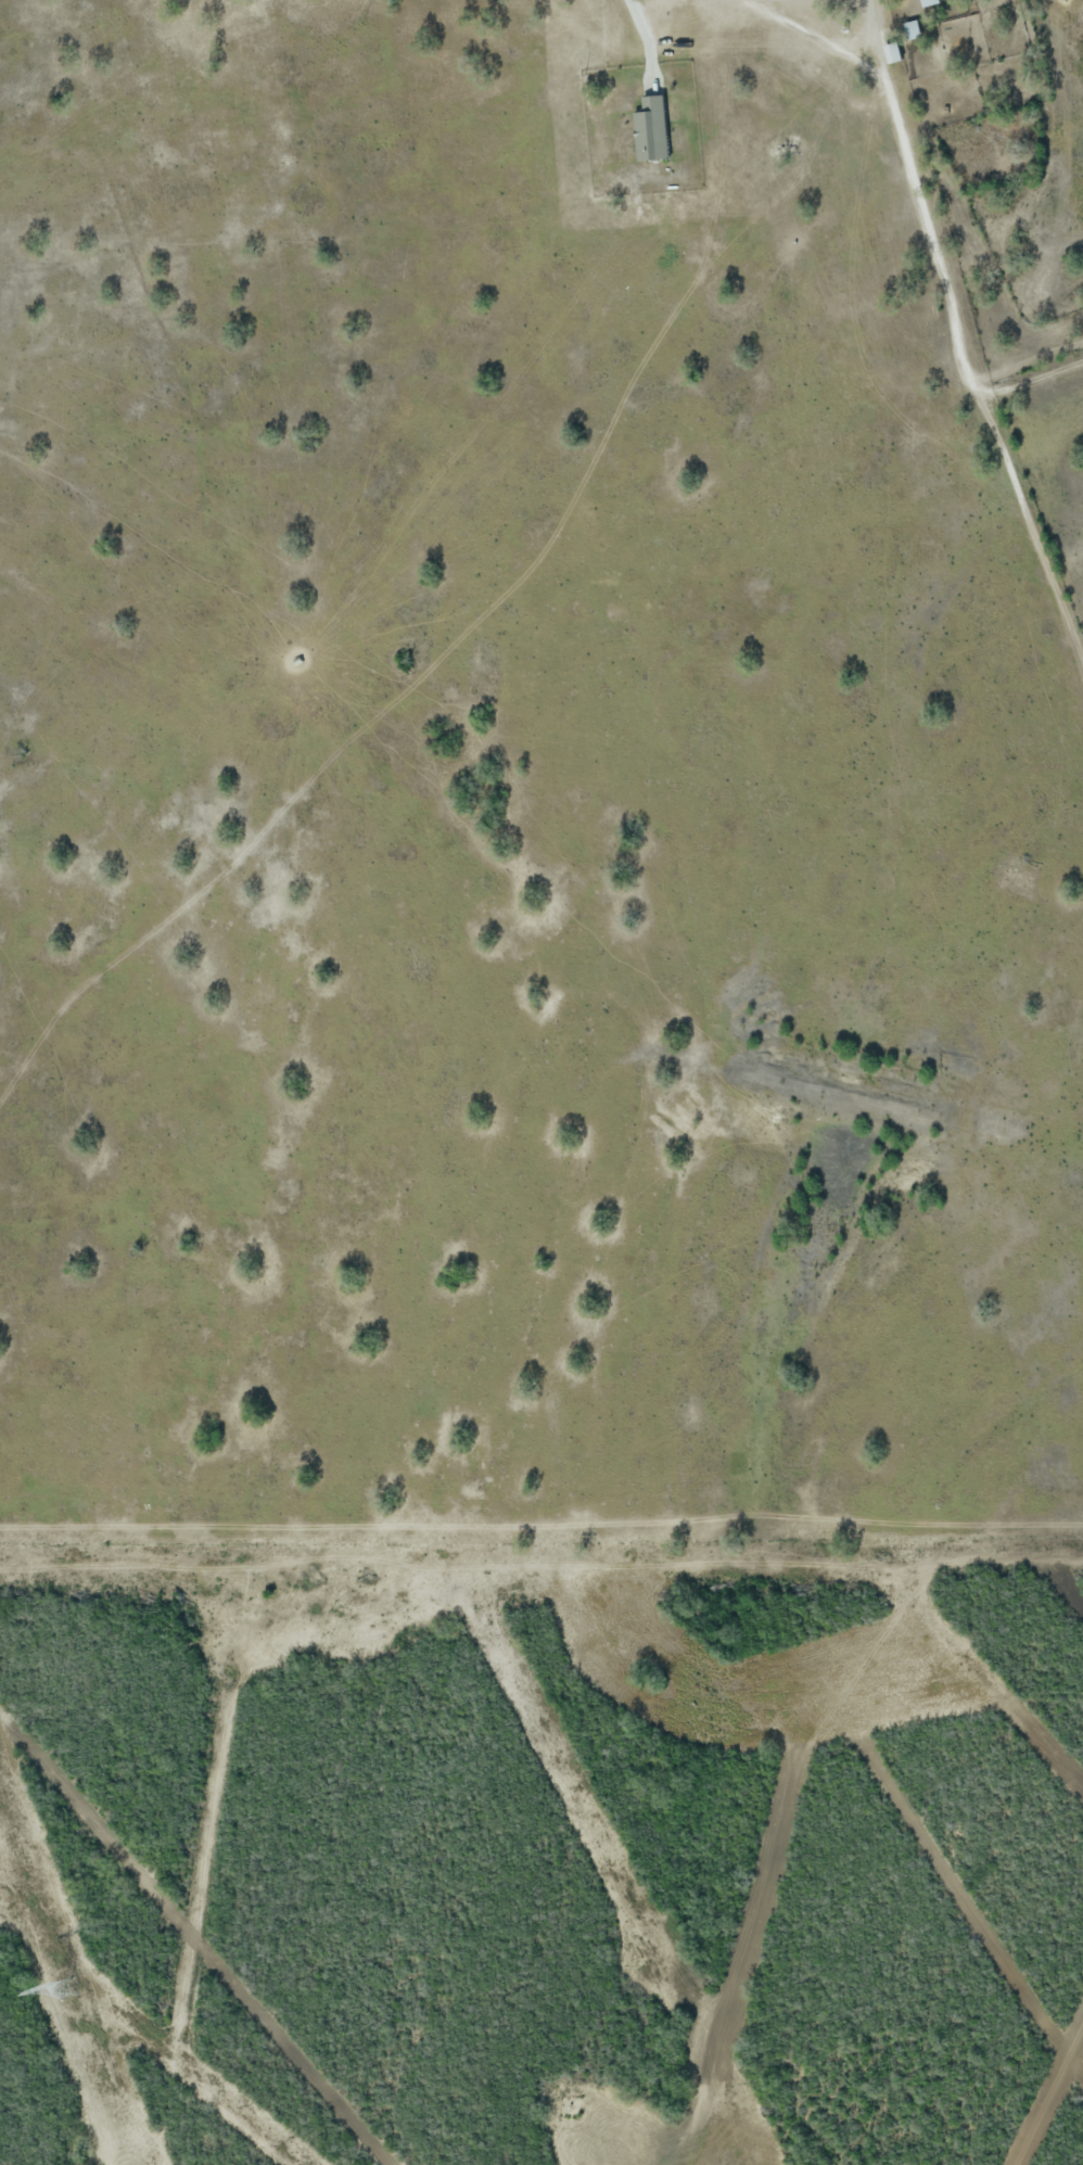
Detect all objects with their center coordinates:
building: (932, 2)
building: (916, 30)
building: (896, 53)
power tower: (66, 1986)

